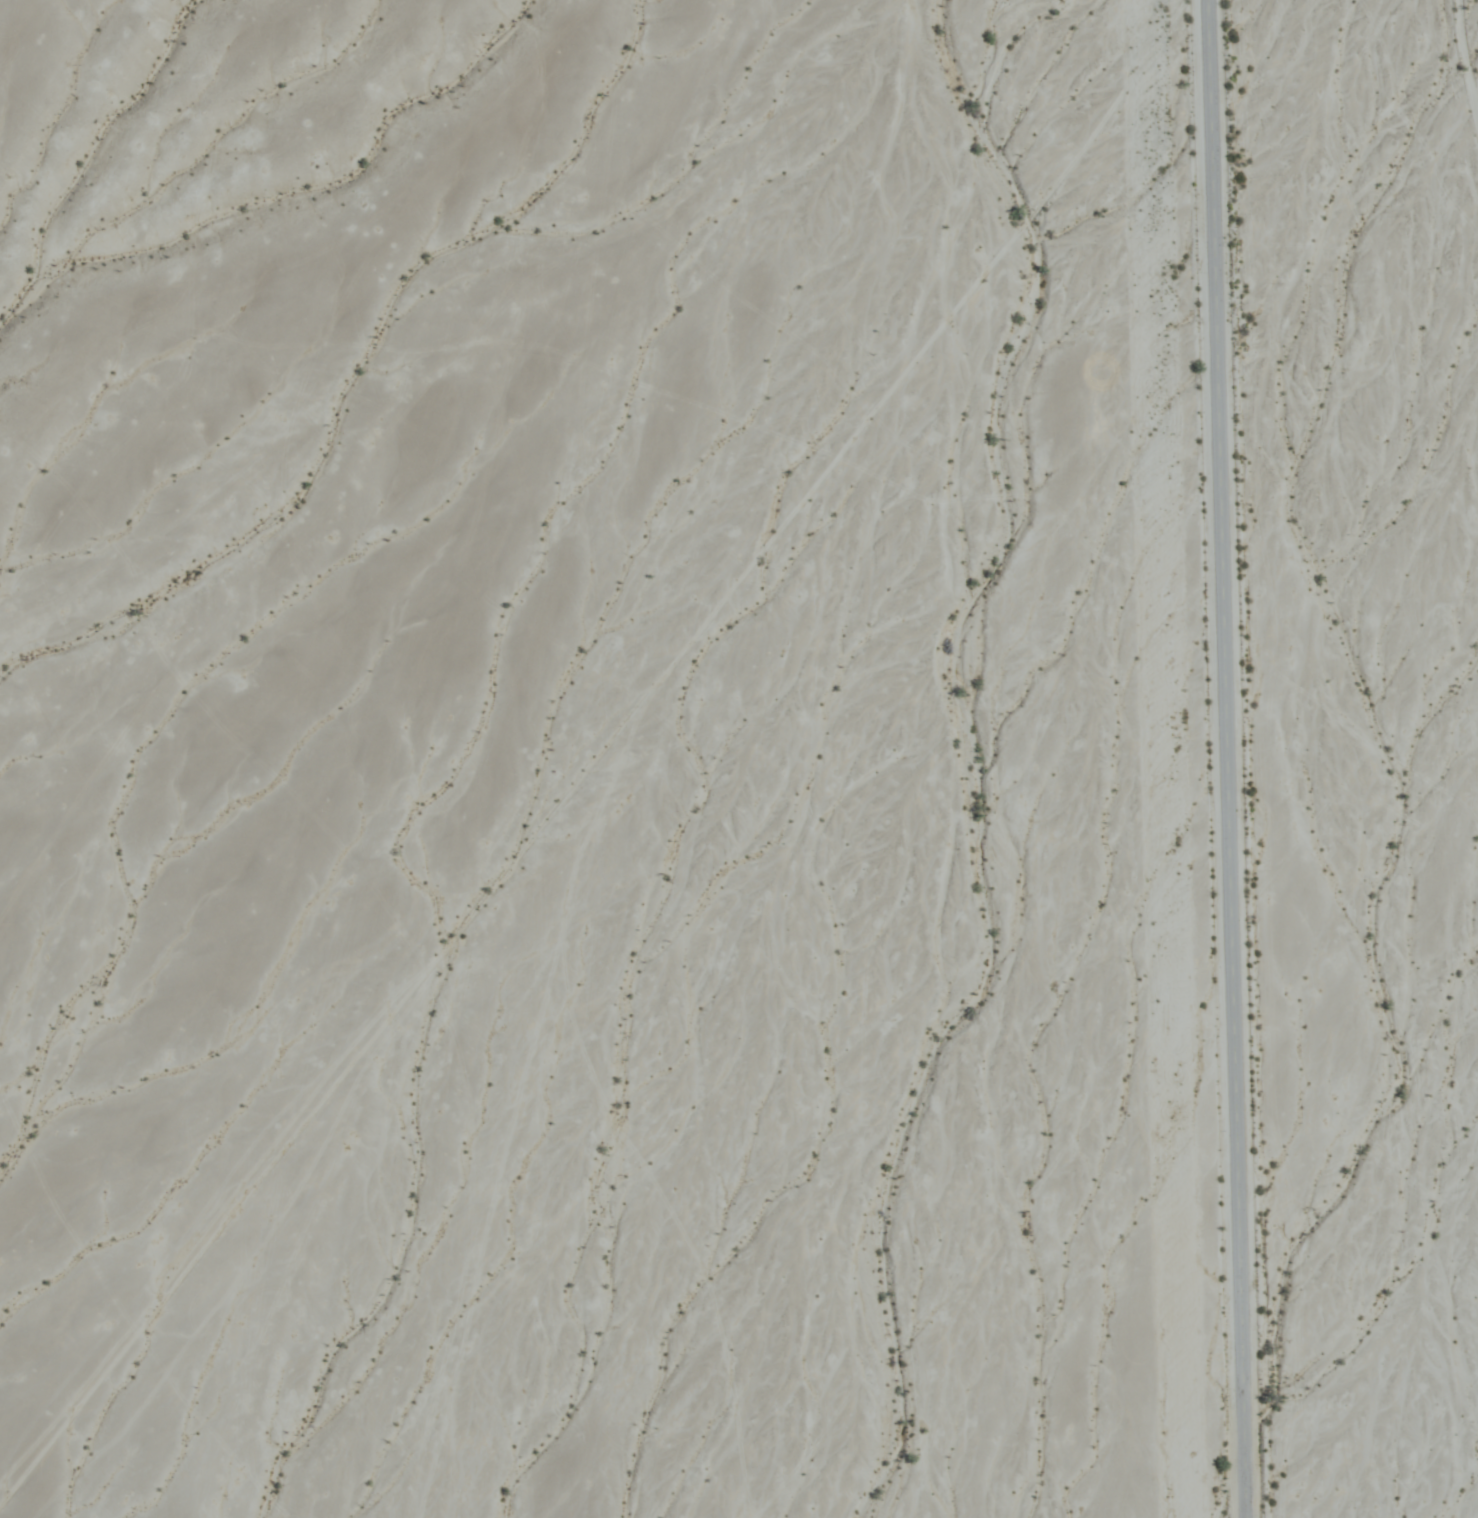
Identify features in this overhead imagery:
road: (1465, 60)
road: (1227, 758)

